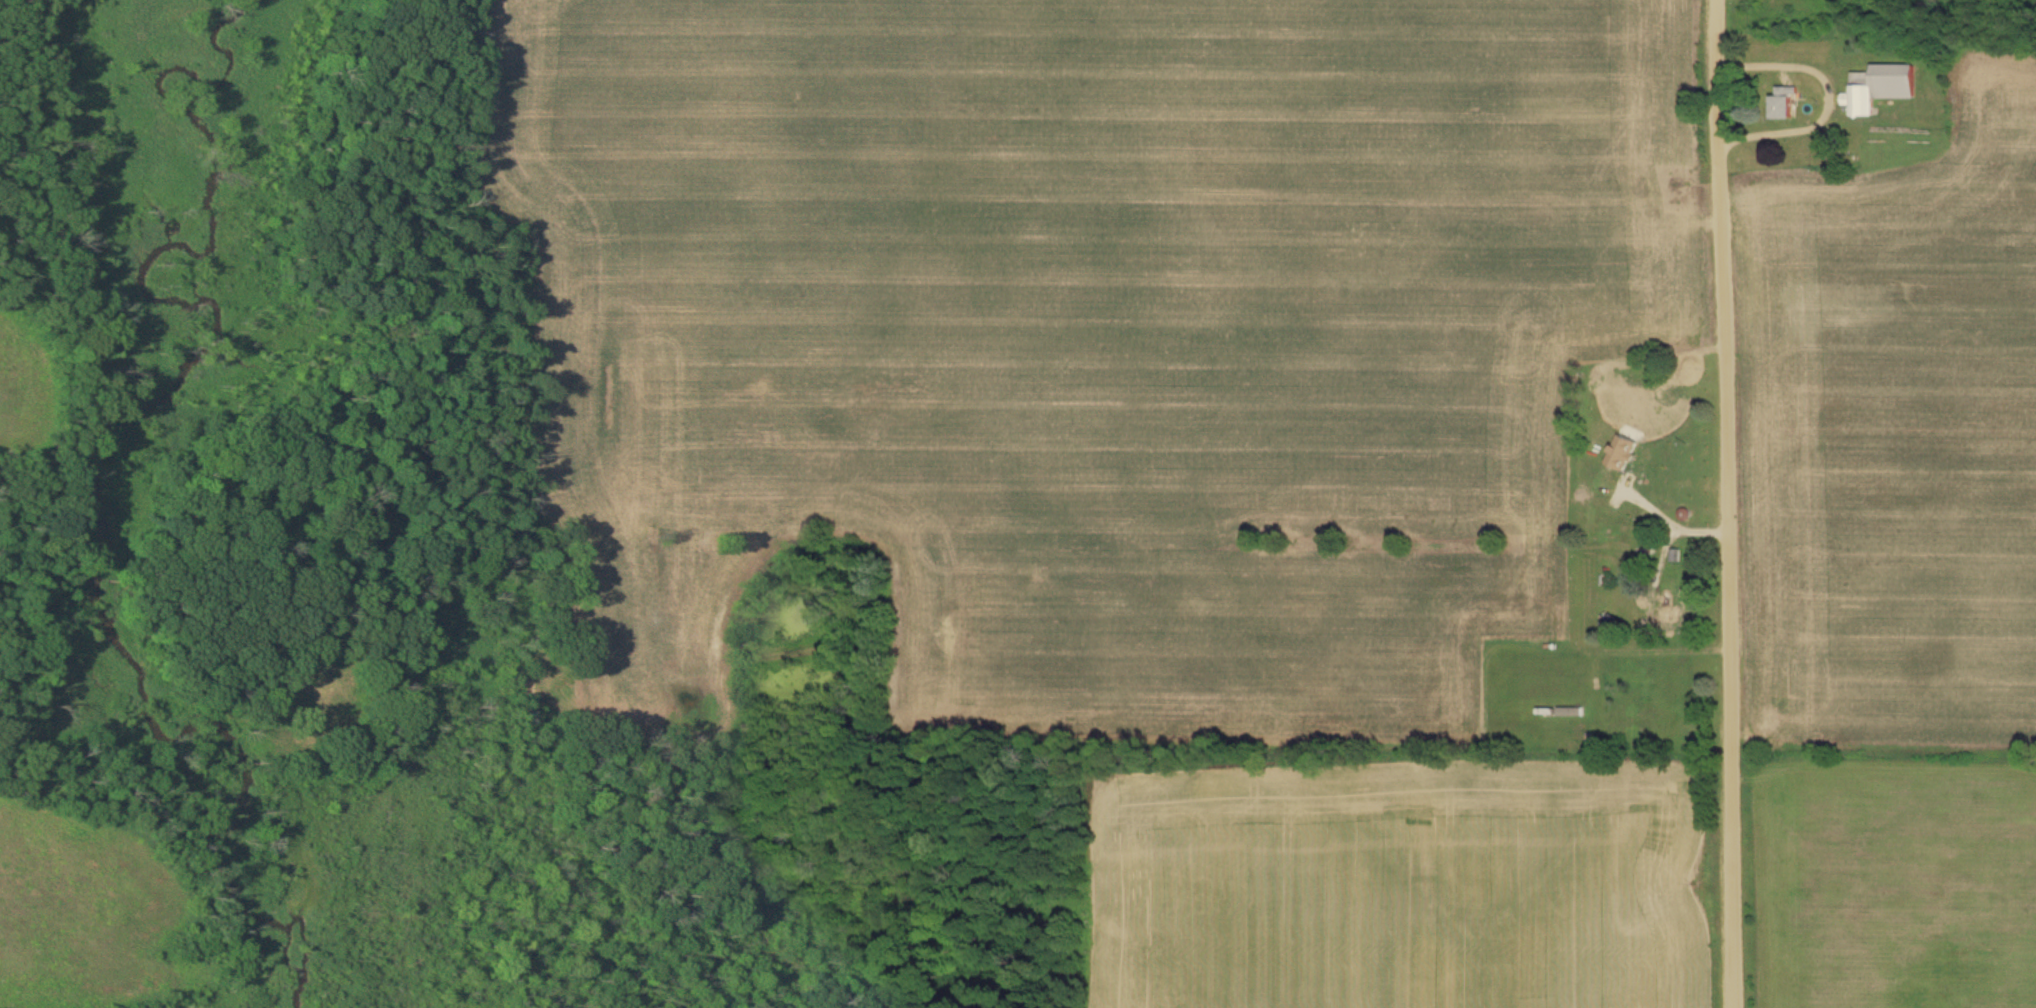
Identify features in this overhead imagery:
building: (1882, 88)
road: (1834, 98)
building: (1785, 104)
crop: (1897, 438)
building: (1662, 482)
road: (1728, 503)
road: (1670, 524)
building: (1668, 609)
building: (1561, 711)

